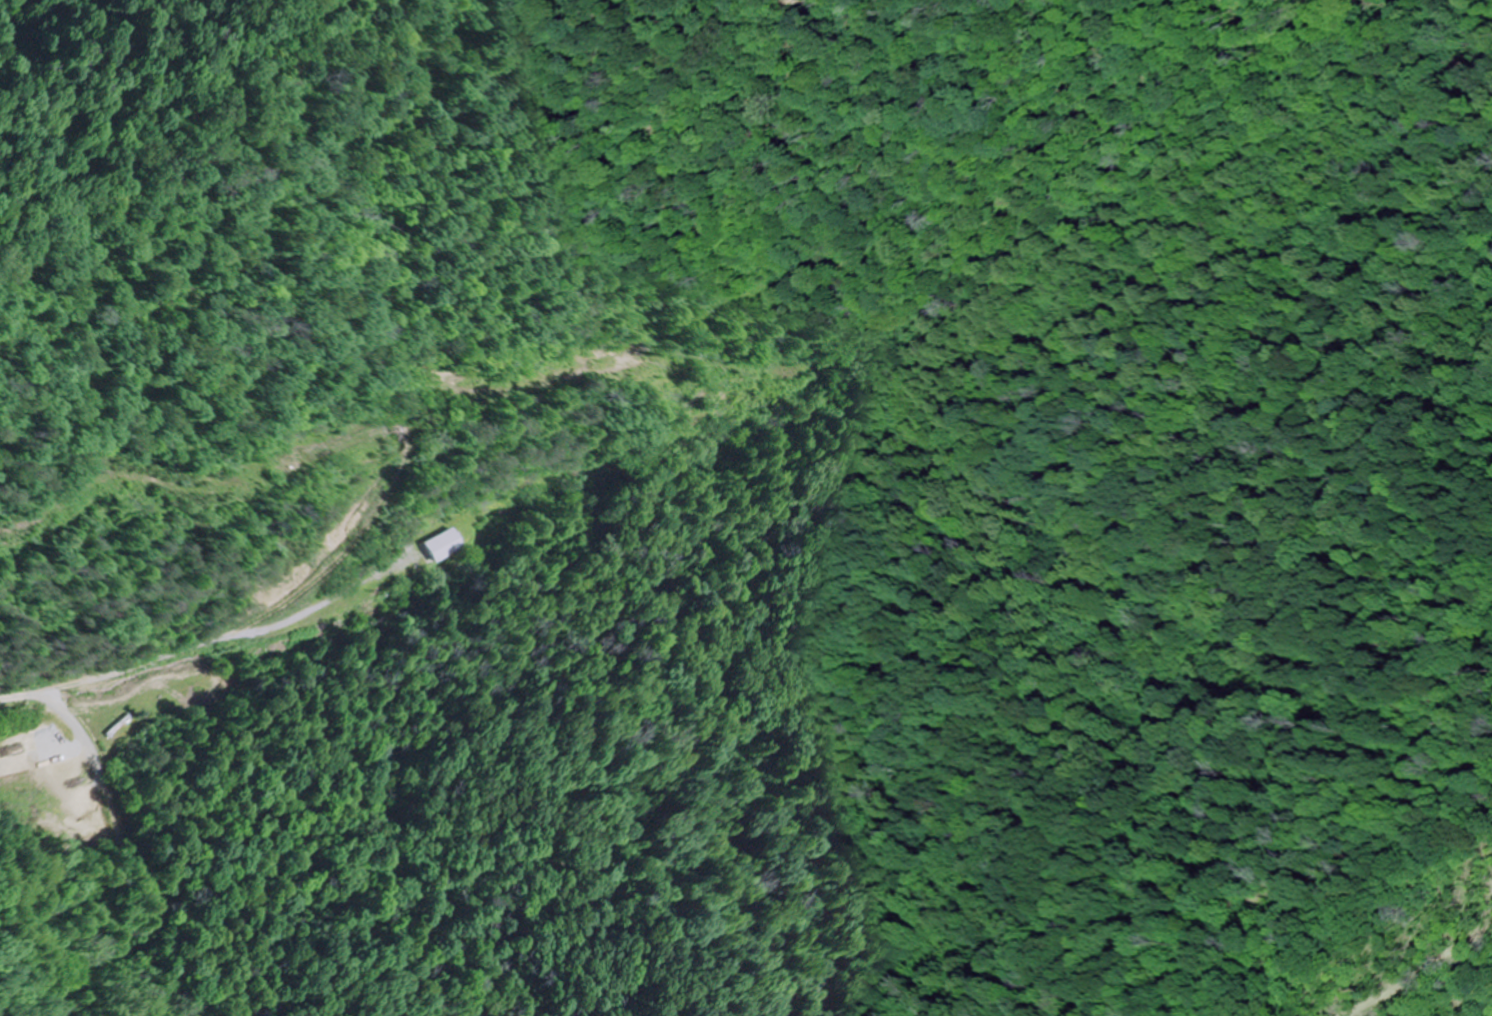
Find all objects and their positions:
building: (439, 546)
road: (207, 640)
building: (117, 727)

